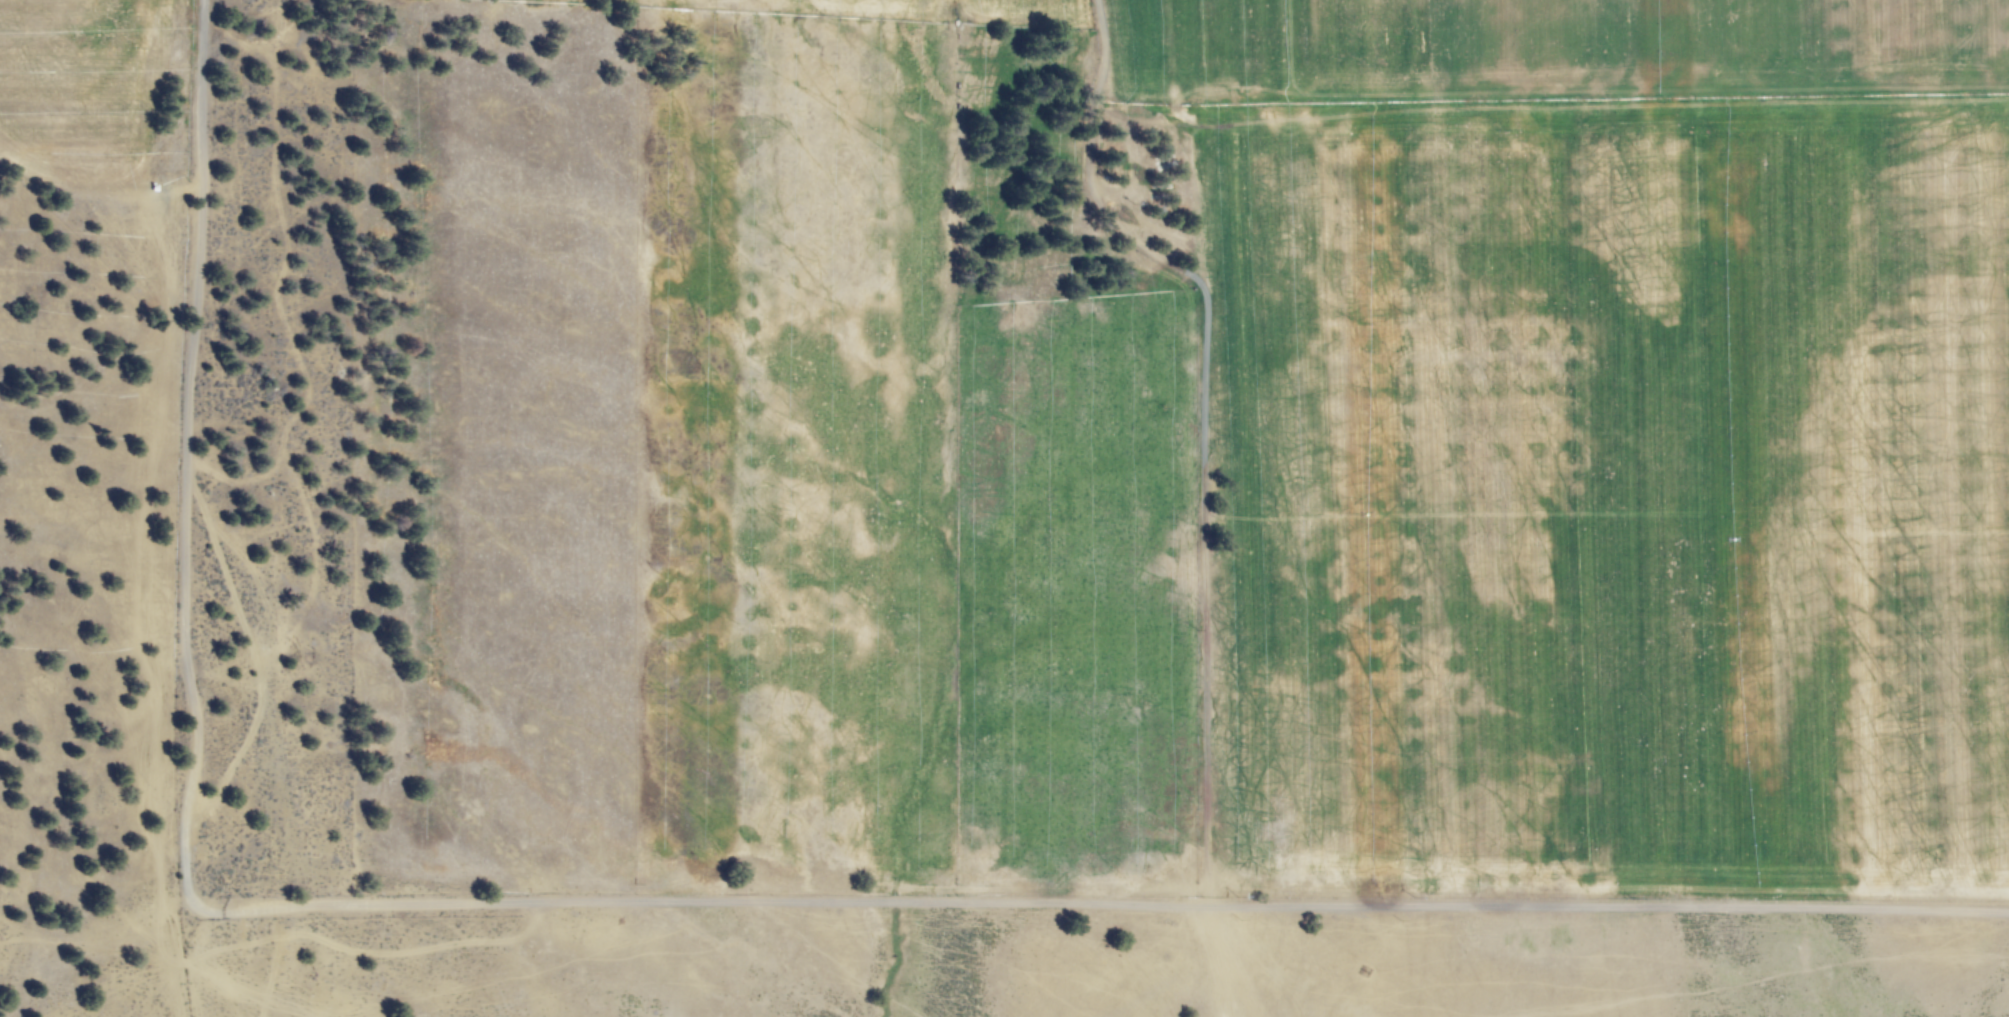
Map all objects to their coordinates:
road: (648, 901)

